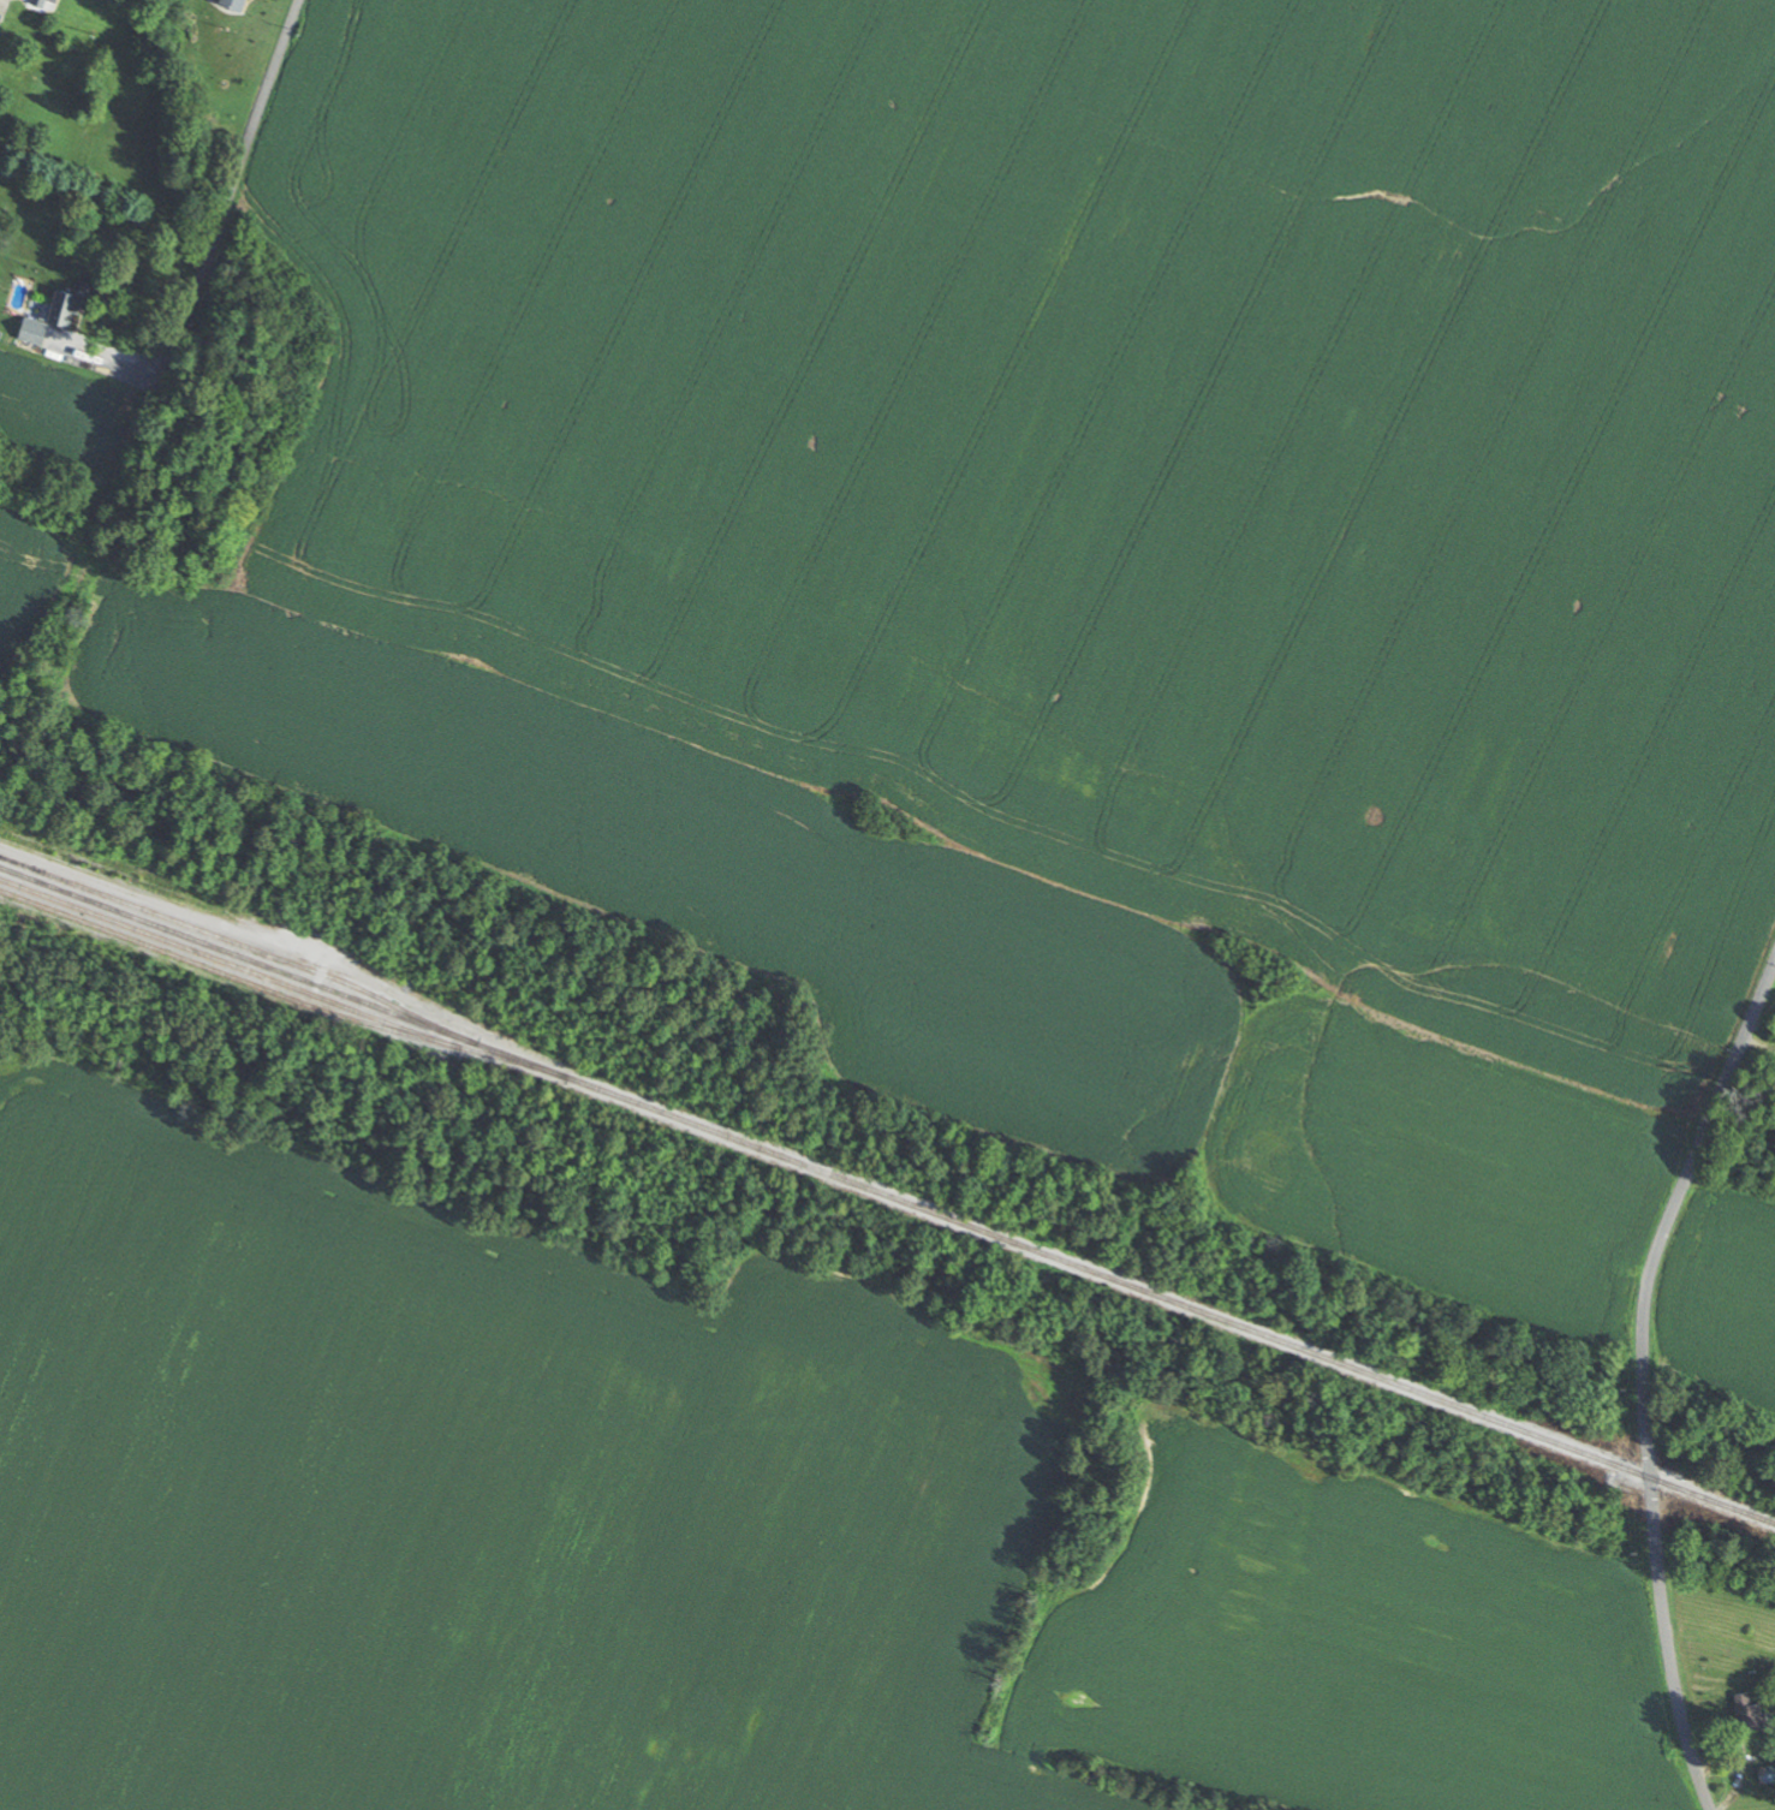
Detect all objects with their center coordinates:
building: (1, 18)
road: (232, 193)
building: (65, 306)
building: (36, 331)
railway: (244, 943)
railway: (228, 961)
railway: (279, 992)
railway: (177, 1047)
railway: (887, 1193)
road: (1646, 1379)
building: (1768, 1773)

